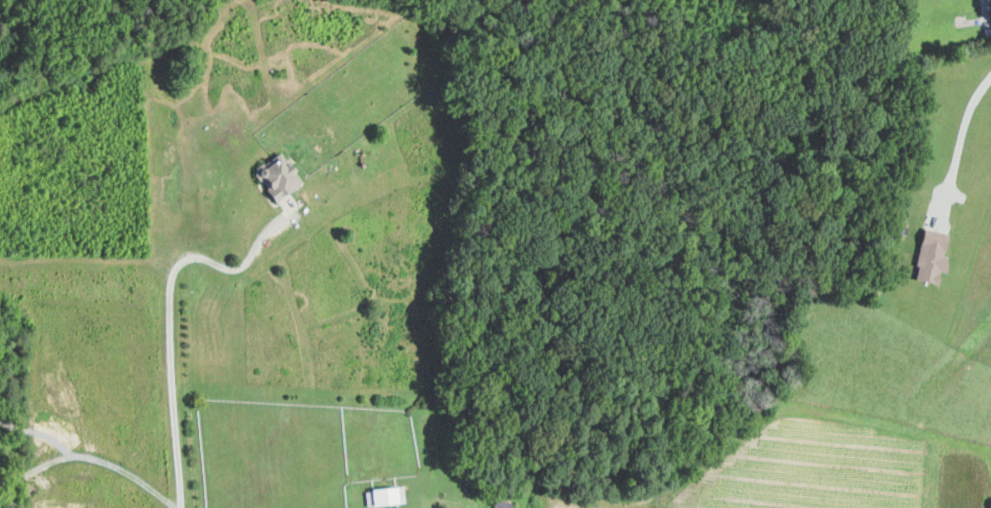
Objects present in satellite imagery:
road: (959, 138)
building: (274, 176)
building: (927, 255)
road: (234, 271)
road: (170, 398)
road: (118, 467)
building: (382, 495)
building: (501, 504)

